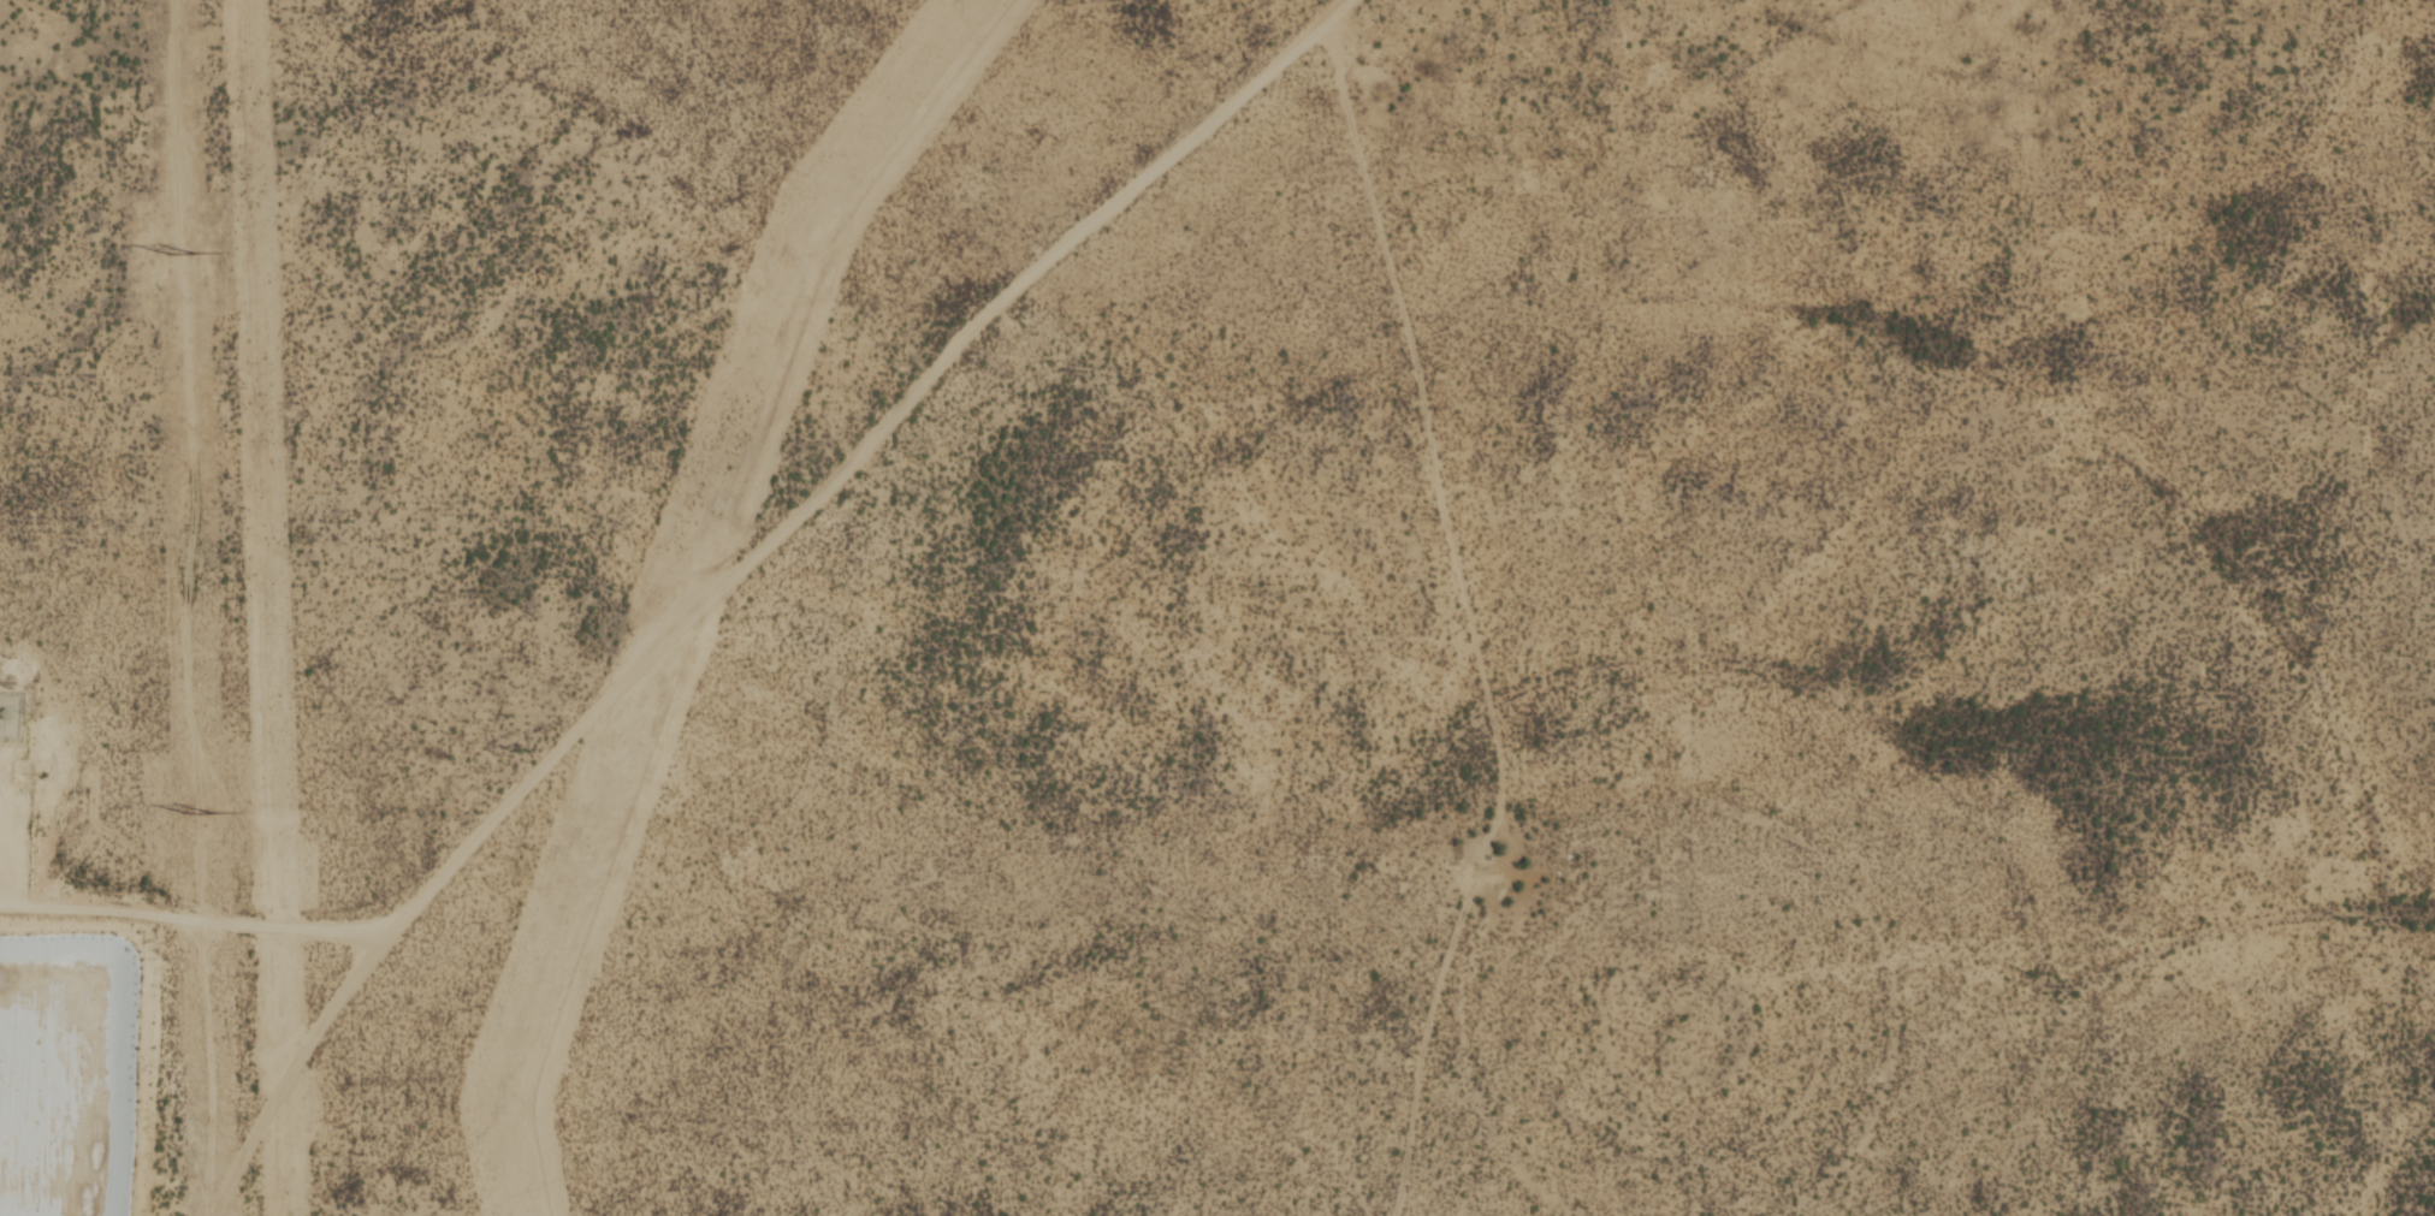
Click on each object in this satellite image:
power tower: (171, 255)
road: (745, 574)
power tower: (188, 811)
road: (200, 908)

